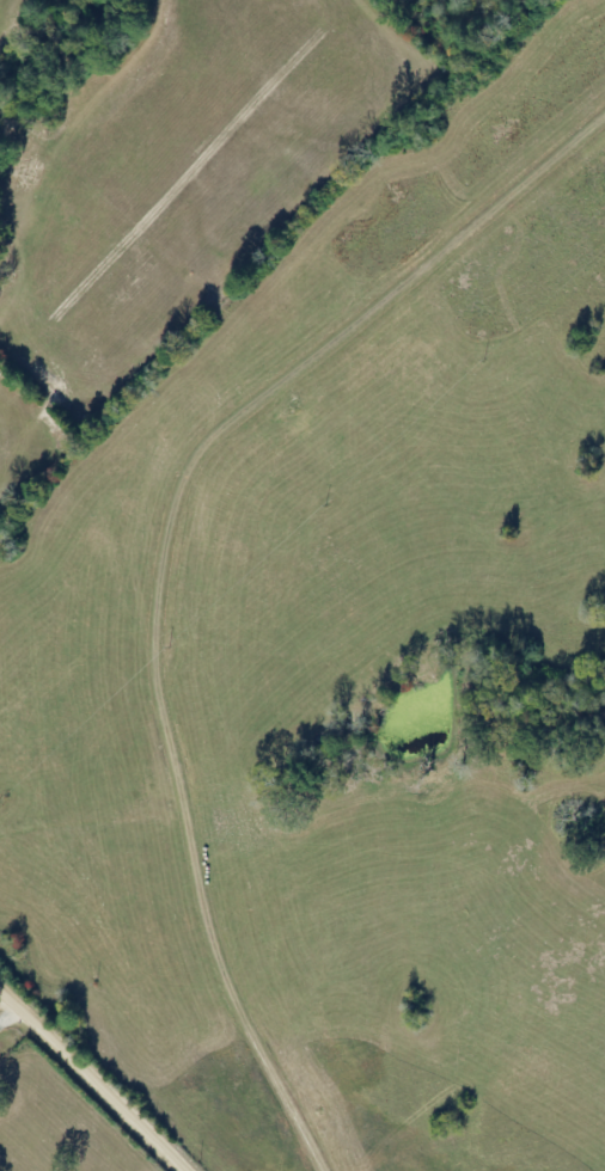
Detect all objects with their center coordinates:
road: (17, 17)
road: (81, 1089)

